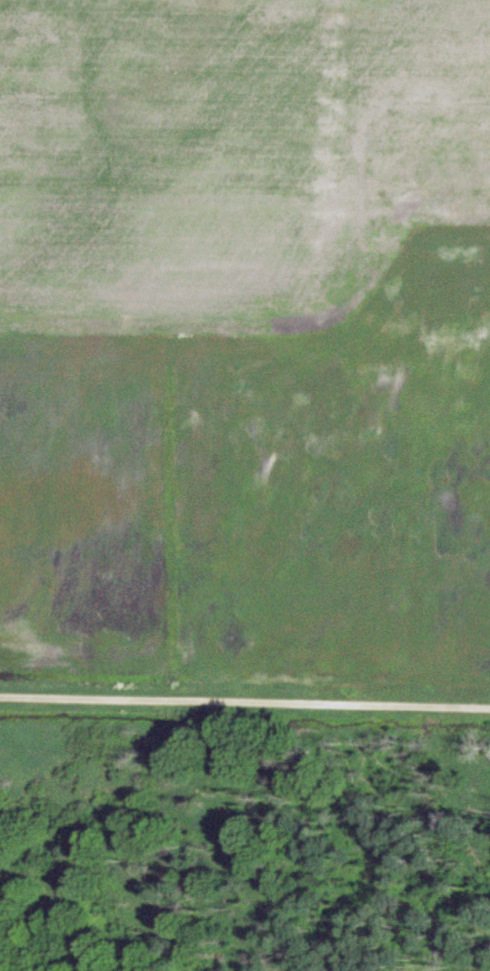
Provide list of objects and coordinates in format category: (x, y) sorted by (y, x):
road: (245, 700)

